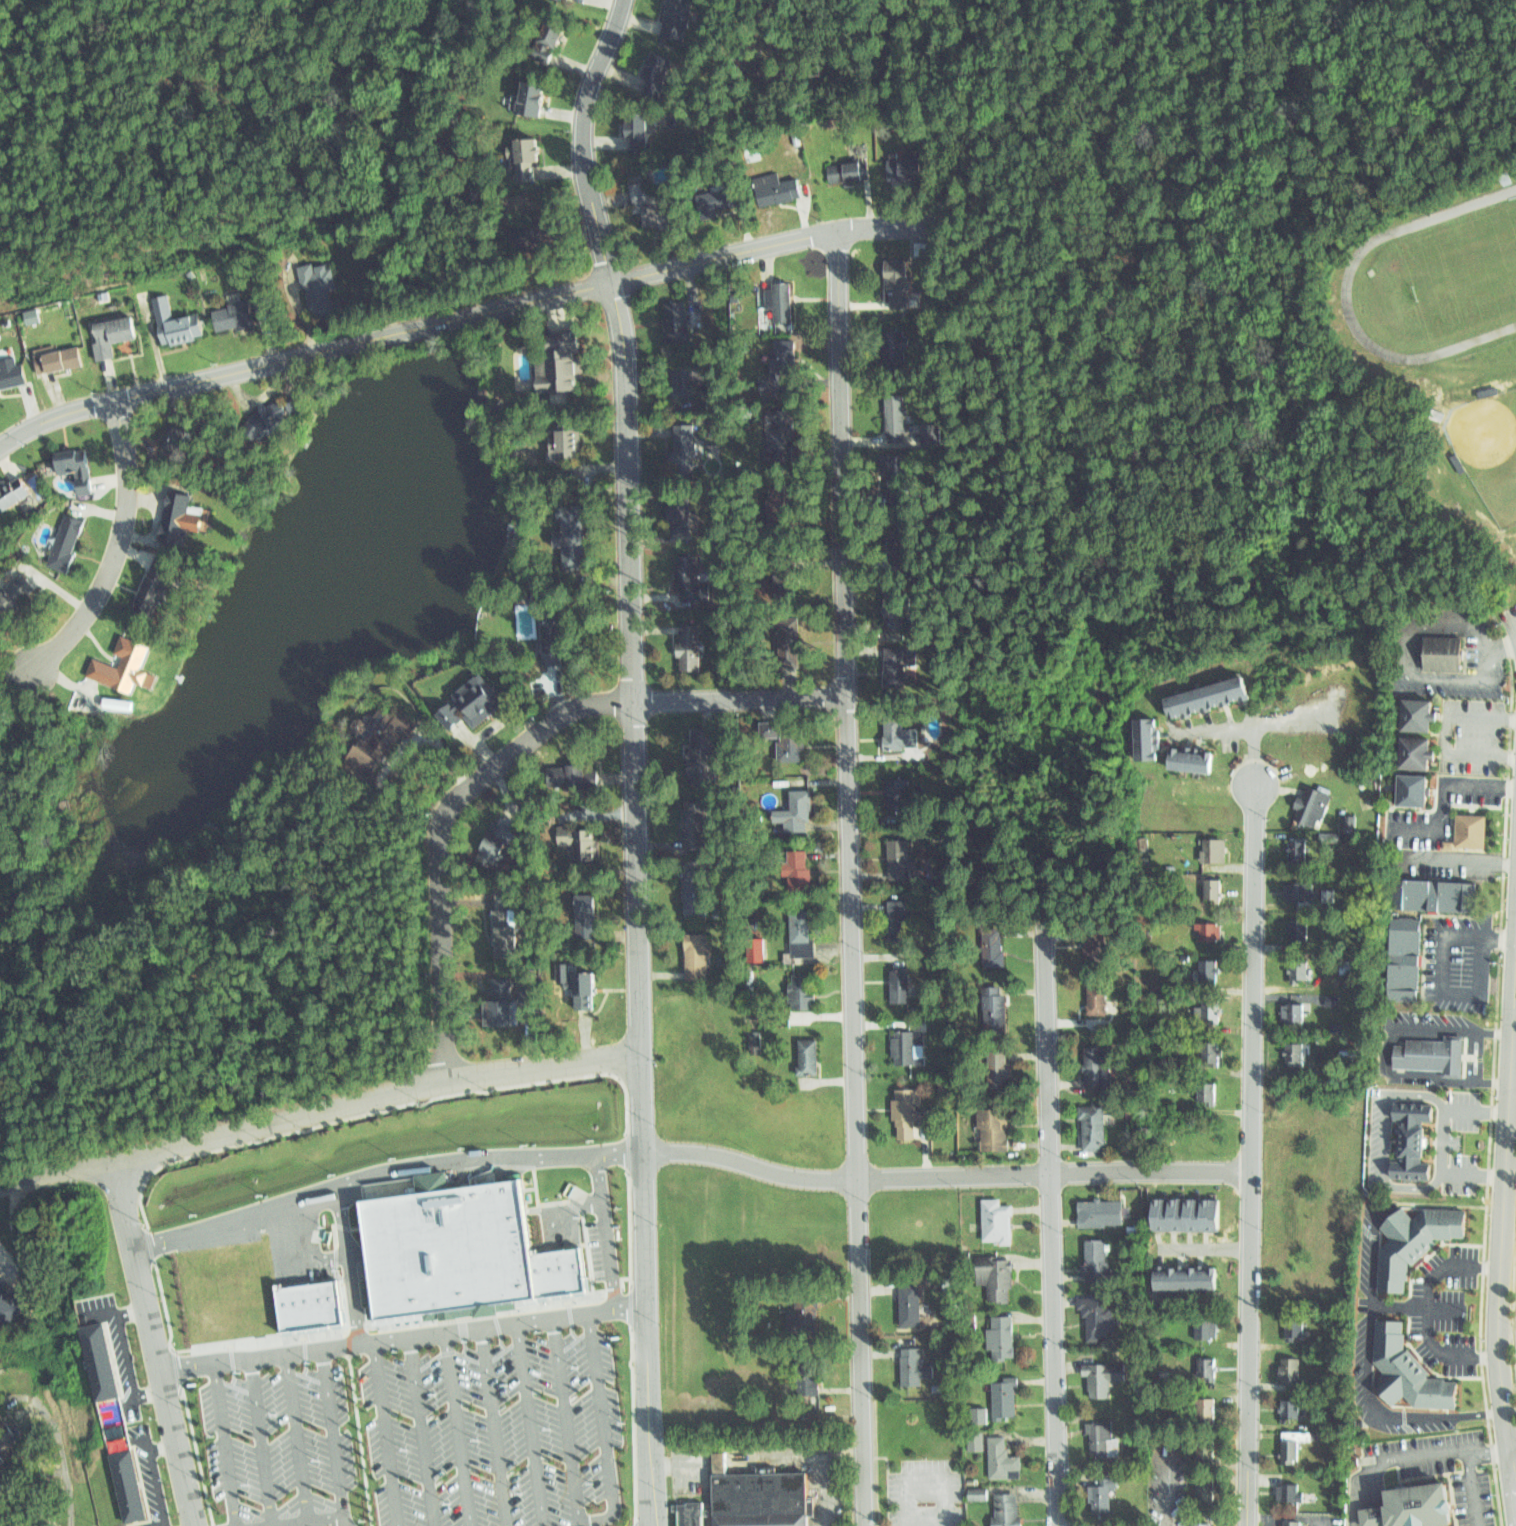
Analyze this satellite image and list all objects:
building: (560, 2)
building: (672, 16)
building: (548, 41)
building: (653, 68)
building: (529, 98)
building: (636, 126)
building: (521, 155)
building: (910, 163)
building: (851, 167)
building: (773, 187)
building: (637, 195)
building: (715, 197)
building: (549, 228)
park: (1464, 273)
building: (906, 279)
building: (311, 282)
building: (778, 301)
building: (222, 311)
building: (31, 316)
road: (466, 316)
building: (669, 319)
building: (167, 321)
building: (103, 329)
building: (898, 343)
building: (50, 355)
building: (556, 360)
building: (778, 367)
building: (6, 368)
building: (685, 383)
building: (293, 402)
building: (898, 409)
building: (253, 412)
building: (265, 420)
building: (785, 427)
building: (931, 433)
building: (169, 434)
building: (569, 437)
building: (683, 440)
park: (1489, 443)
building: (55, 466)
building: (899, 476)
building: (10, 487)
building: (793, 497)
building: (679, 505)
building: (175, 512)
building: (570, 533)
building: (61, 536)
road: (113, 549)
building: (905, 549)
building: (678, 571)
building: (793, 571)
building: (152, 579)
building: (12, 586)
building: (901, 608)
road: (1508, 608)
road: (1515, 617)
building: (553, 632)
road: (1492, 635)
building: (798, 640)
road: (1508, 642)
building: (685, 649)
building: (1451, 650)
building: (900, 658)
building: (116, 660)
building: (1207, 688)
building: (471, 699)
building: (1419, 709)
road: (1258, 719)
building: (900, 723)
building: (771, 728)
building: (1147, 730)
road: (1452, 730)
building: (381, 737)
building: (794, 737)
building: (1416, 746)
road: (1261, 750)
building: (700, 753)
building: (1193, 755)
road: (512, 756)
road: (633, 756)
building: (562, 772)
building: (1412, 788)
building: (902, 790)
road: (1451, 796)
building: (3, 799)
building: (1318, 799)
building: (801, 804)
building: (695, 827)
building: (1474, 827)
building: (1333, 838)
building: (579, 842)
building: (487, 845)
building: (1215, 845)
building: (1302, 846)
building: (899, 853)
road: (1463, 858)
building: (799, 860)
road: (851, 877)
building: (1210, 882)
building: (1300, 888)
building: (703, 889)
building: (1434, 895)
building: (898, 908)
building: (582, 914)
building: (807, 925)
building: (499, 926)
building: (1303, 926)
building: (1214, 928)
road: (1503, 930)
building: (1000, 941)
building: (1097, 942)
building: (761, 944)
building: (701, 950)
building: (1406, 952)
building: (1213, 965)
building: (1300, 965)
building: (1348, 967)
building: (907, 978)
building: (571, 982)
building: (527, 985)
building: (803, 987)
road: (1448, 987)
building: (1100, 994)
building: (497, 995)
building: (1332, 1000)
building: (1001, 1001)
building: (1217, 1007)
building: (1301, 1010)
road: (1515, 1011)
building: (503, 1012)
building: (760, 1037)
building: (911, 1040)
building: (755, 1042)
road: (1388, 1046)
building: (1298, 1050)
building: (1213, 1051)
building: (1434, 1052)
building: (811, 1053)
road: (1482, 1053)
building: (1000, 1058)
building: (1100, 1061)
road: (1421, 1088)
building: (1210, 1093)
building: (904, 1100)
road: (318, 1107)
building: (1097, 1121)
building: (999, 1124)
road: (1384, 1132)
building: (1412, 1133)
road: (1447, 1137)
road: (1254, 1153)
road: (382, 1170)
road: (946, 1175)
road: (1416, 1180)
building: (1100, 1211)
building: (1185, 1211)
building: (999, 1219)
road: (1051, 1223)
road: (606, 1232)
building: (1414, 1236)
road: (1208, 1244)
road: (1499, 1247)
building: (452, 1248)
building: (1097, 1258)
road: (1448, 1260)
road: (287, 1262)
road: (348, 1264)
road: (13, 1267)
building: (563, 1272)
building: (998, 1273)
building: (1185, 1274)
road: (1423, 1302)
building: (9, 1305)
building: (915, 1305)
building: (309, 1306)
building: (806, 1307)
building: (1099, 1313)
road: (130, 1315)
building: (1301, 1316)
building: (1213, 1328)
building: (1294, 1329)
building: (1000, 1337)
road: (403, 1338)
road: (151, 1341)
road: (1447, 1348)
road: (125, 1357)
building: (919, 1359)
building: (99, 1360)
building: (1210, 1363)
building: (1293, 1367)
road: (1371, 1367)
building: (1409, 1367)
building: (808, 1369)
building: (1103, 1379)
road: (148, 1393)
building: (1003, 1397)
building: (1295, 1407)
building: (1209, 1409)
building: (980, 1415)
road: (566, 1422)
road: (531, 1424)
road: (494, 1427)
road: (458, 1429)
road: (603, 1431)
road: (421, 1432)
building: (5, 1433)
road: (336, 1433)
road: (384, 1434)
road: (297, 1438)
building: (1104, 1438)
road: (61, 1439)
road: (262, 1442)
road: (1468, 1443)
road: (225, 1444)
road: (1511, 1444)
building: (1210, 1446)
road: (1491, 1446)
road: (159, 1447)
building: (1293, 1451)
building: (994, 1453)
building: (1, 1459)
building: (1, 1463)
road: (146, 1464)
building: (0, 1470)
road: (926, 1476)
building: (125, 1483)
road: (1172, 1484)
road: (1352, 1484)
building: (1209, 1490)
building: (1290, 1491)
road: (1382, 1491)
road: (829, 1492)
road: (1373, 1493)
building: (978, 1494)
building: (1101, 1496)
road: (1365, 1496)
building: (762, 1497)
building: (1412, 1506)
building: (1007, 1510)
building: (691, 1513)
road: (1292, 1518)
road: (323, 1520)
building: (1207, 1523)
building: (1291, 1523)
road: (156, 1525)

